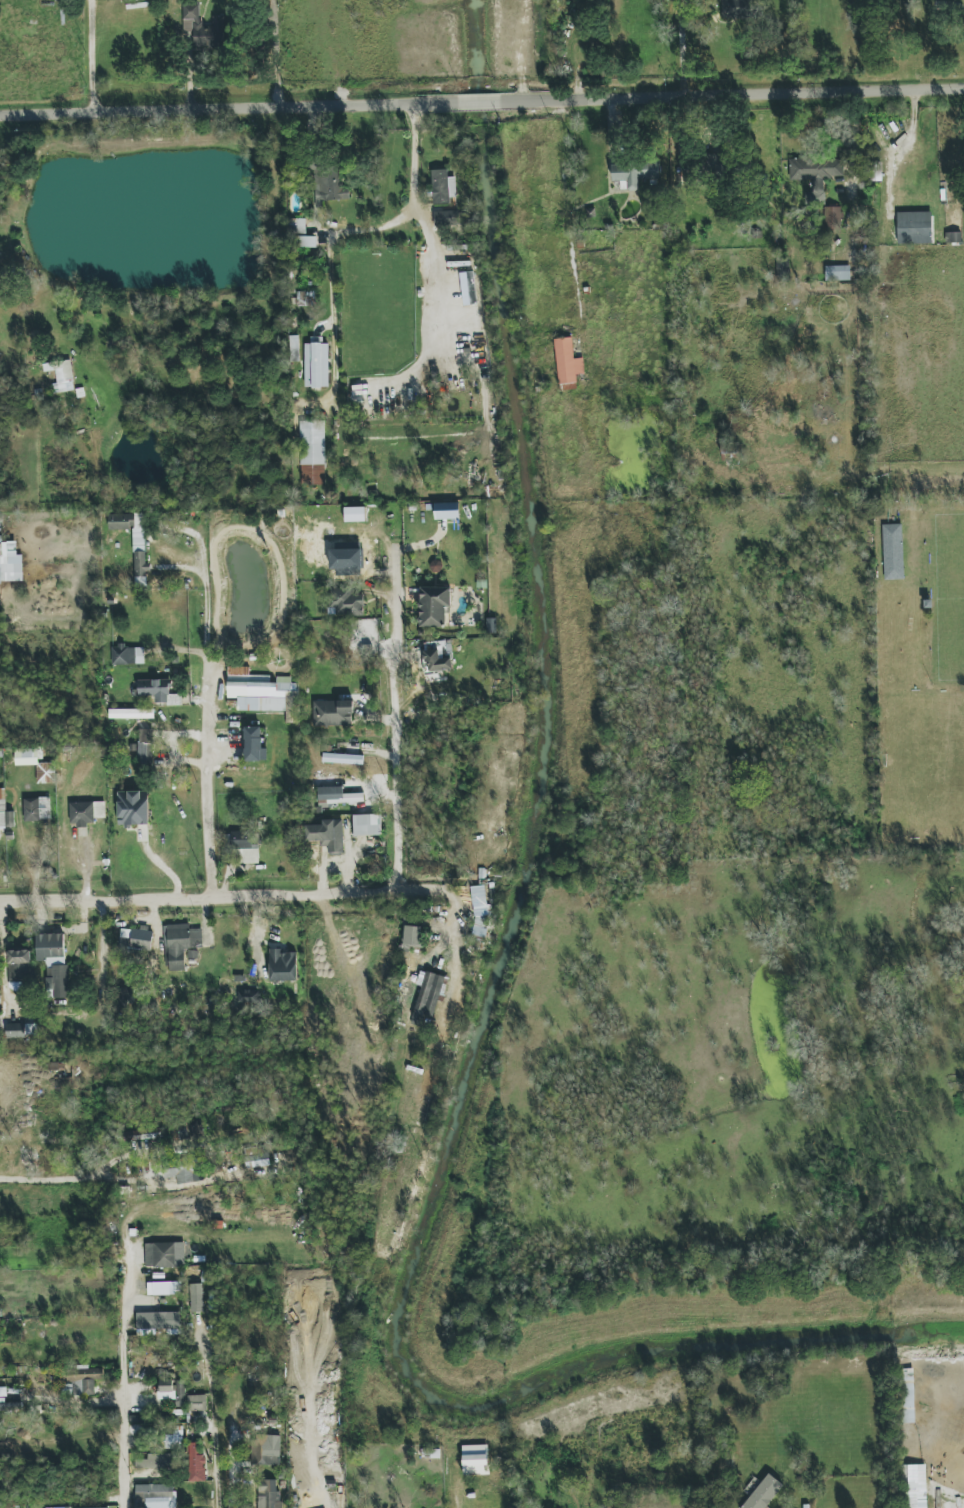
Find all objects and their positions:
building: (738, 9)
building: (203, 29)
road: (680, 49)
road: (95, 55)
road: (734, 94)
road: (481, 100)
road: (228, 106)
building: (716, 163)
building: (816, 168)
building: (634, 174)
building: (331, 186)
building: (442, 187)
road: (412, 196)
building: (832, 218)
building: (447, 219)
road: (569, 228)
building: (914, 228)
road: (433, 239)
building: (307, 242)
building: (837, 273)
building: (305, 298)
building: (292, 348)
building: (567, 362)
building: (317, 365)
building: (61, 375)
building: (730, 448)
building: (312, 453)
building: (446, 511)
building: (354, 514)
building: (134, 542)
building: (893, 551)
building: (10, 563)
building: (344, 602)
building: (434, 606)
building: (128, 655)
building: (437, 661)
building: (258, 690)
building: (131, 713)
building: (333, 713)
road: (204, 715)
road: (394, 719)
building: (253, 744)
building: (145, 747)
building: (27, 757)
building: (343, 759)
building: (46, 773)
building: (337, 795)
building: (133, 808)
building: (37, 809)
building: (5, 813)
building: (86, 813)
building: (367, 825)
building: (326, 835)
building: (245, 847)
road: (218, 896)
building: (483, 897)
road: (457, 915)
building: (413, 935)
building: (136, 938)
building: (181, 944)
road: (101, 952)
building: (54, 963)
building: (282, 964)
building: (17, 968)
building: (126, 996)
building: (248, 997)
building: (429, 997)
building: (19, 1030)
building: (260, 1160)
building: (179, 1169)
road: (53, 1179)
building: (165, 1255)
building: (164, 1288)
road: (41, 1289)
building: (196, 1298)
building: (160, 1321)
building: (84, 1380)
road: (122, 1388)
building: (172, 1391)
building: (3, 1392)
building: (908, 1396)
building: (197, 1403)
building: (4, 1406)
road: (215, 1420)
building: (174, 1439)
building: (266, 1451)
building: (476, 1456)
building: (156, 1461)
building: (196, 1462)
road: (230, 1471)
building: (914, 1486)
building: (764, 1492)
building: (269, 1494)
building: (157, 1495)
road: (338, 1506)

